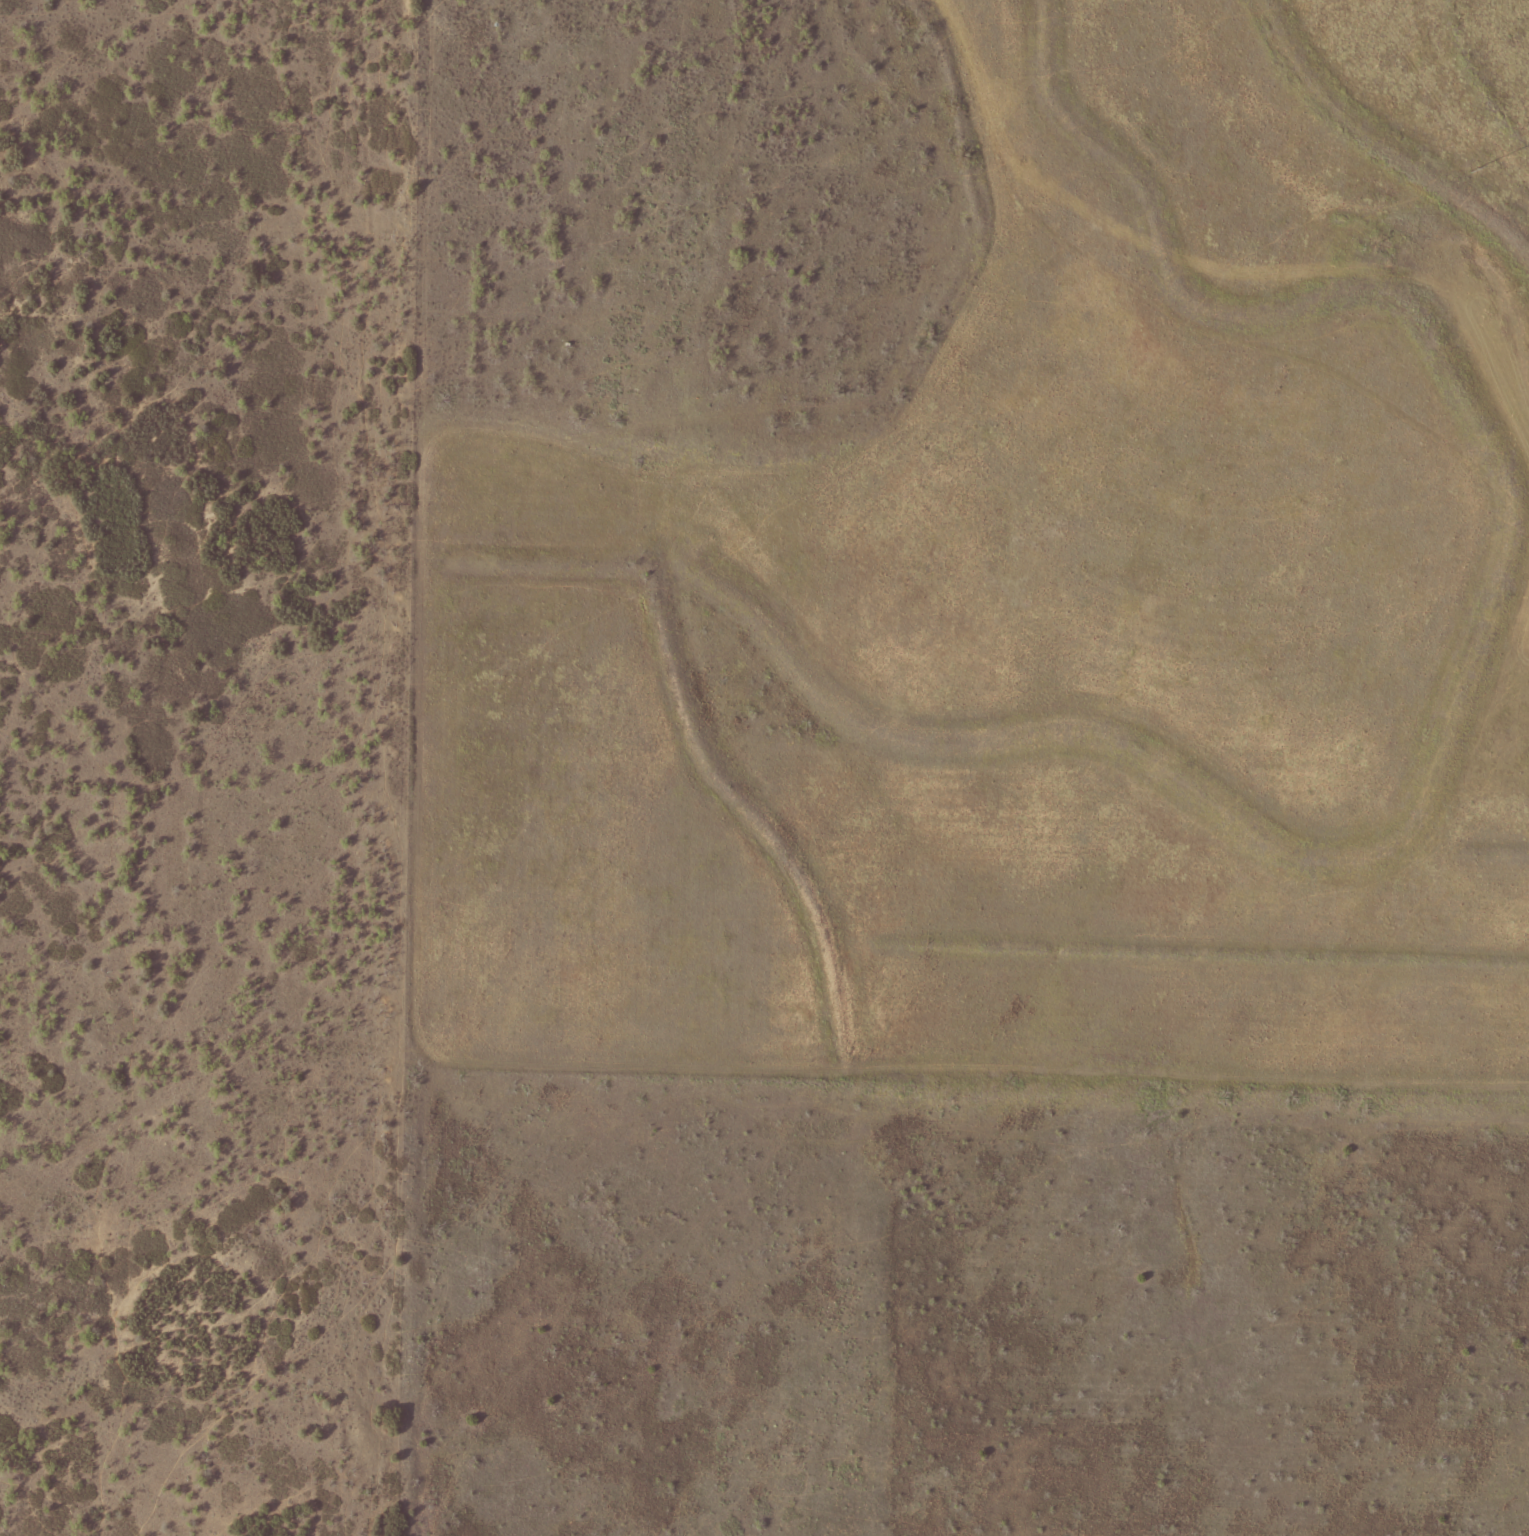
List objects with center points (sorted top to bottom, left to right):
power tower: (1478, 169)
road: (1528, 257)

